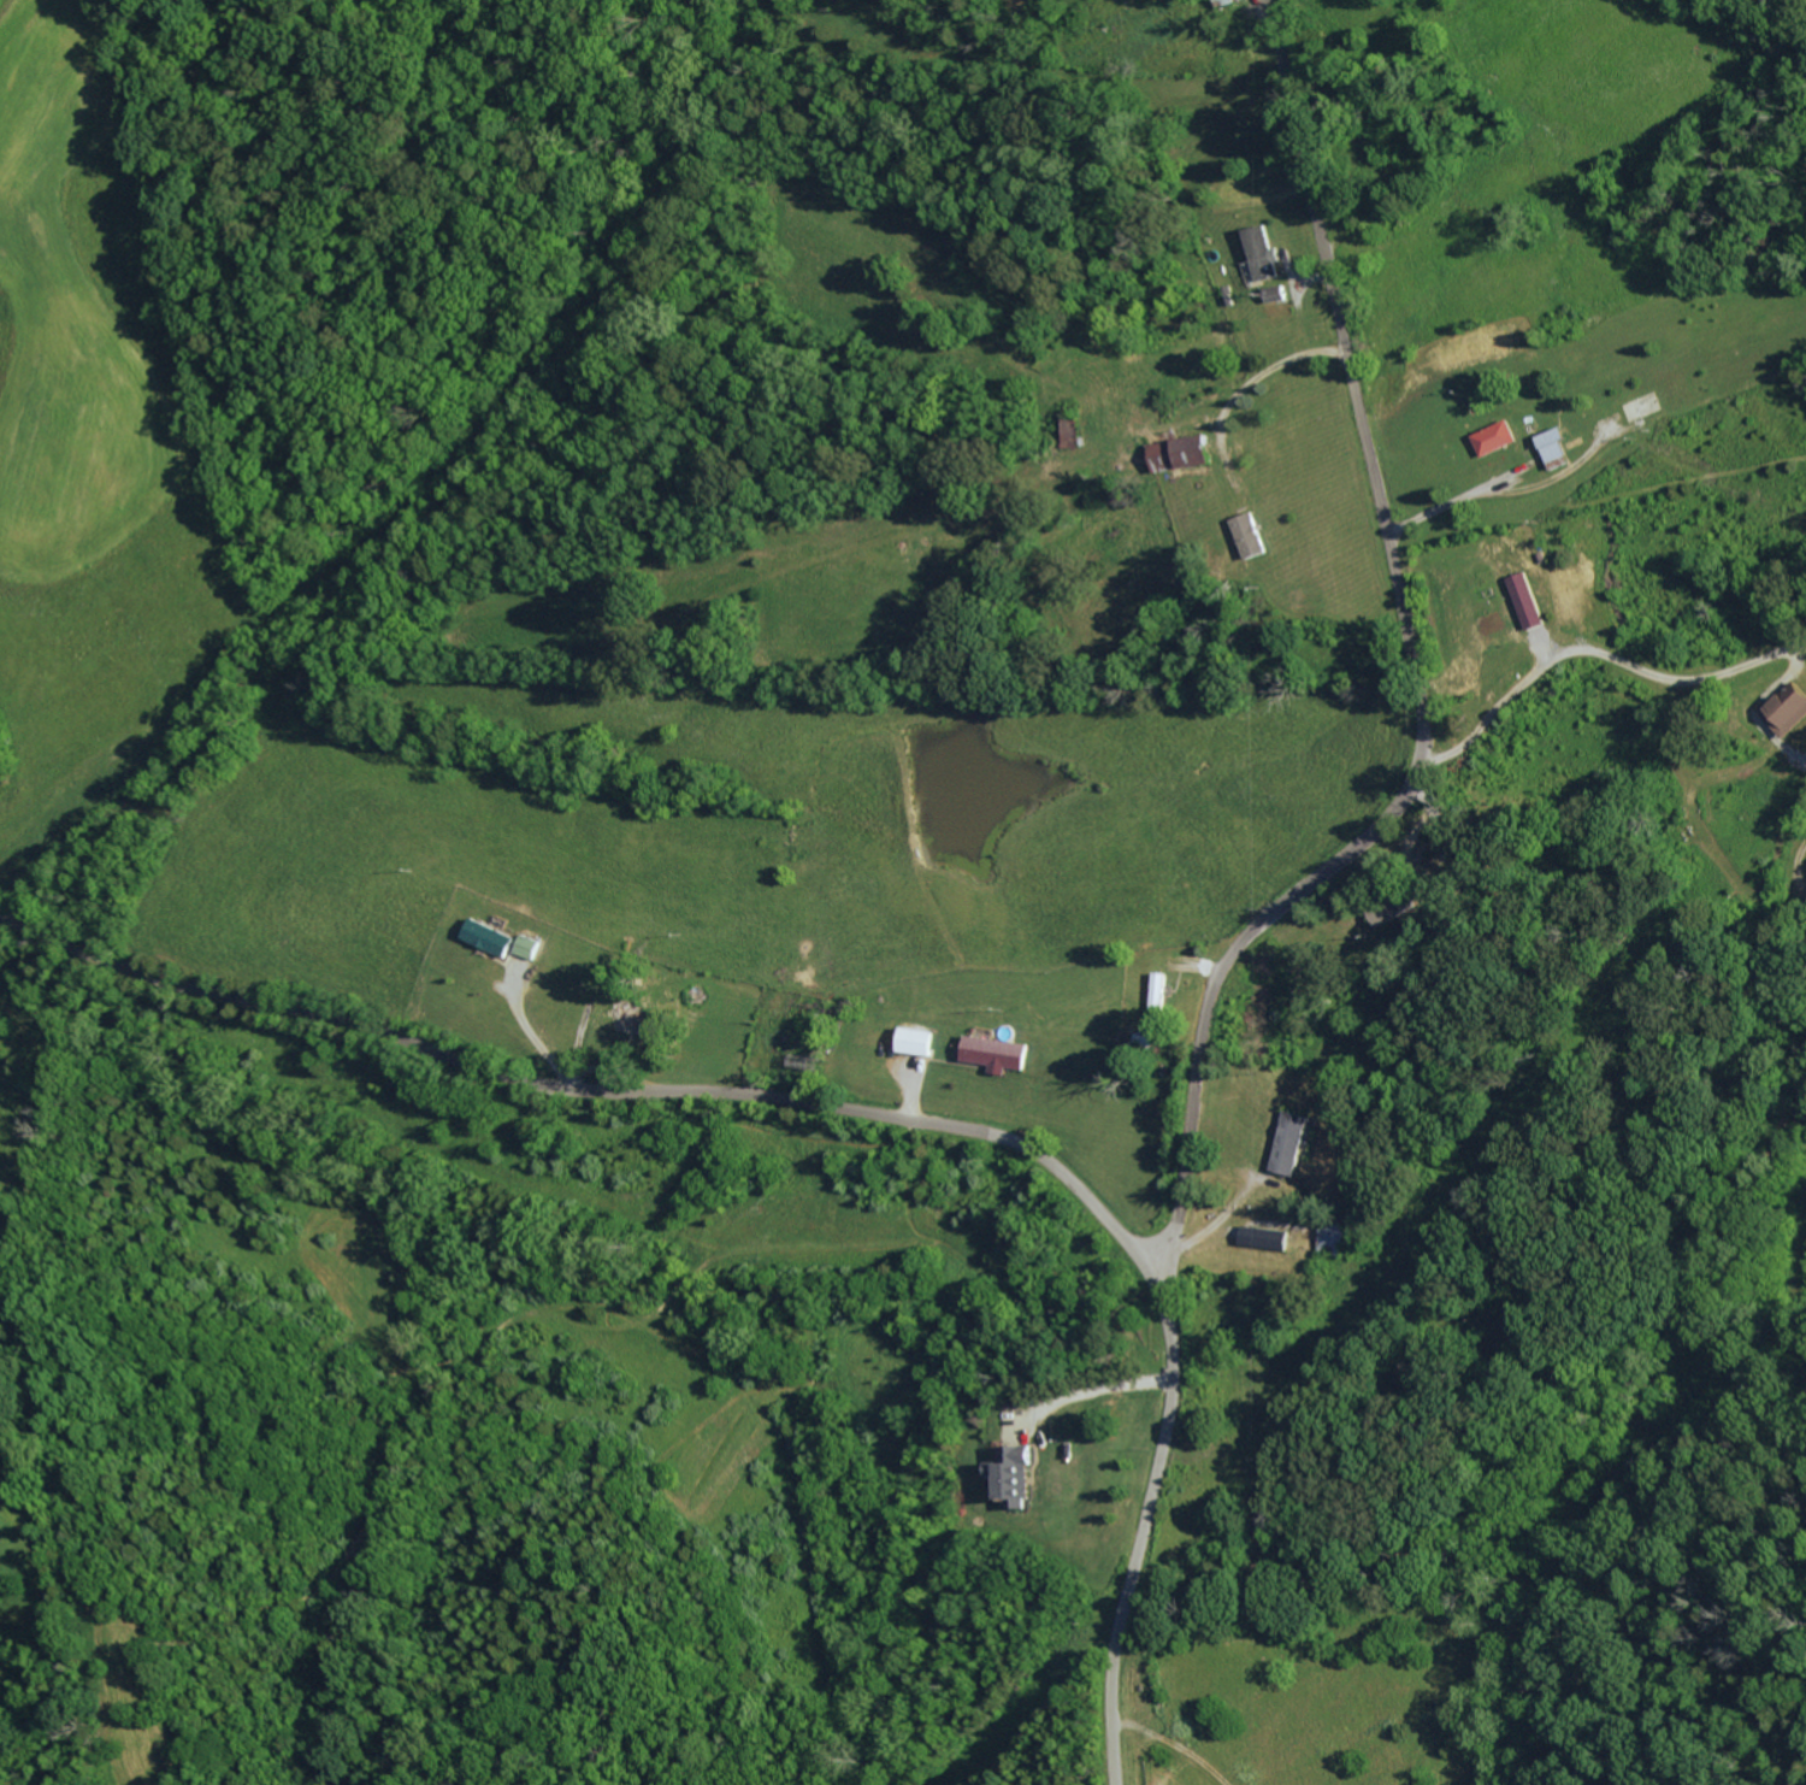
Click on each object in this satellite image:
building: (1264, 253)
building: (1498, 437)
building: (1558, 447)
building: (1185, 452)
road: (1510, 478)
building: (1252, 536)
building: (1530, 601)
road: (1659, 674)
road: (1418, 676)
building: (1789, 711)
building: (1395, 906)
building: (489, 936)
building: (527, 944)
building: (1158, 998)
building: (635, 1014)
building: (919, 1039)
building: (997, 1051)
road: (572, 1085)
building: (1296, 1142)
building: (1268, 1236)
building: (1336, 1237)
road: (1173, 1285)
road: (1091, 1386)
road: (1167, 1438)
building: (1014, 1473)
road: (1116, 1712)

